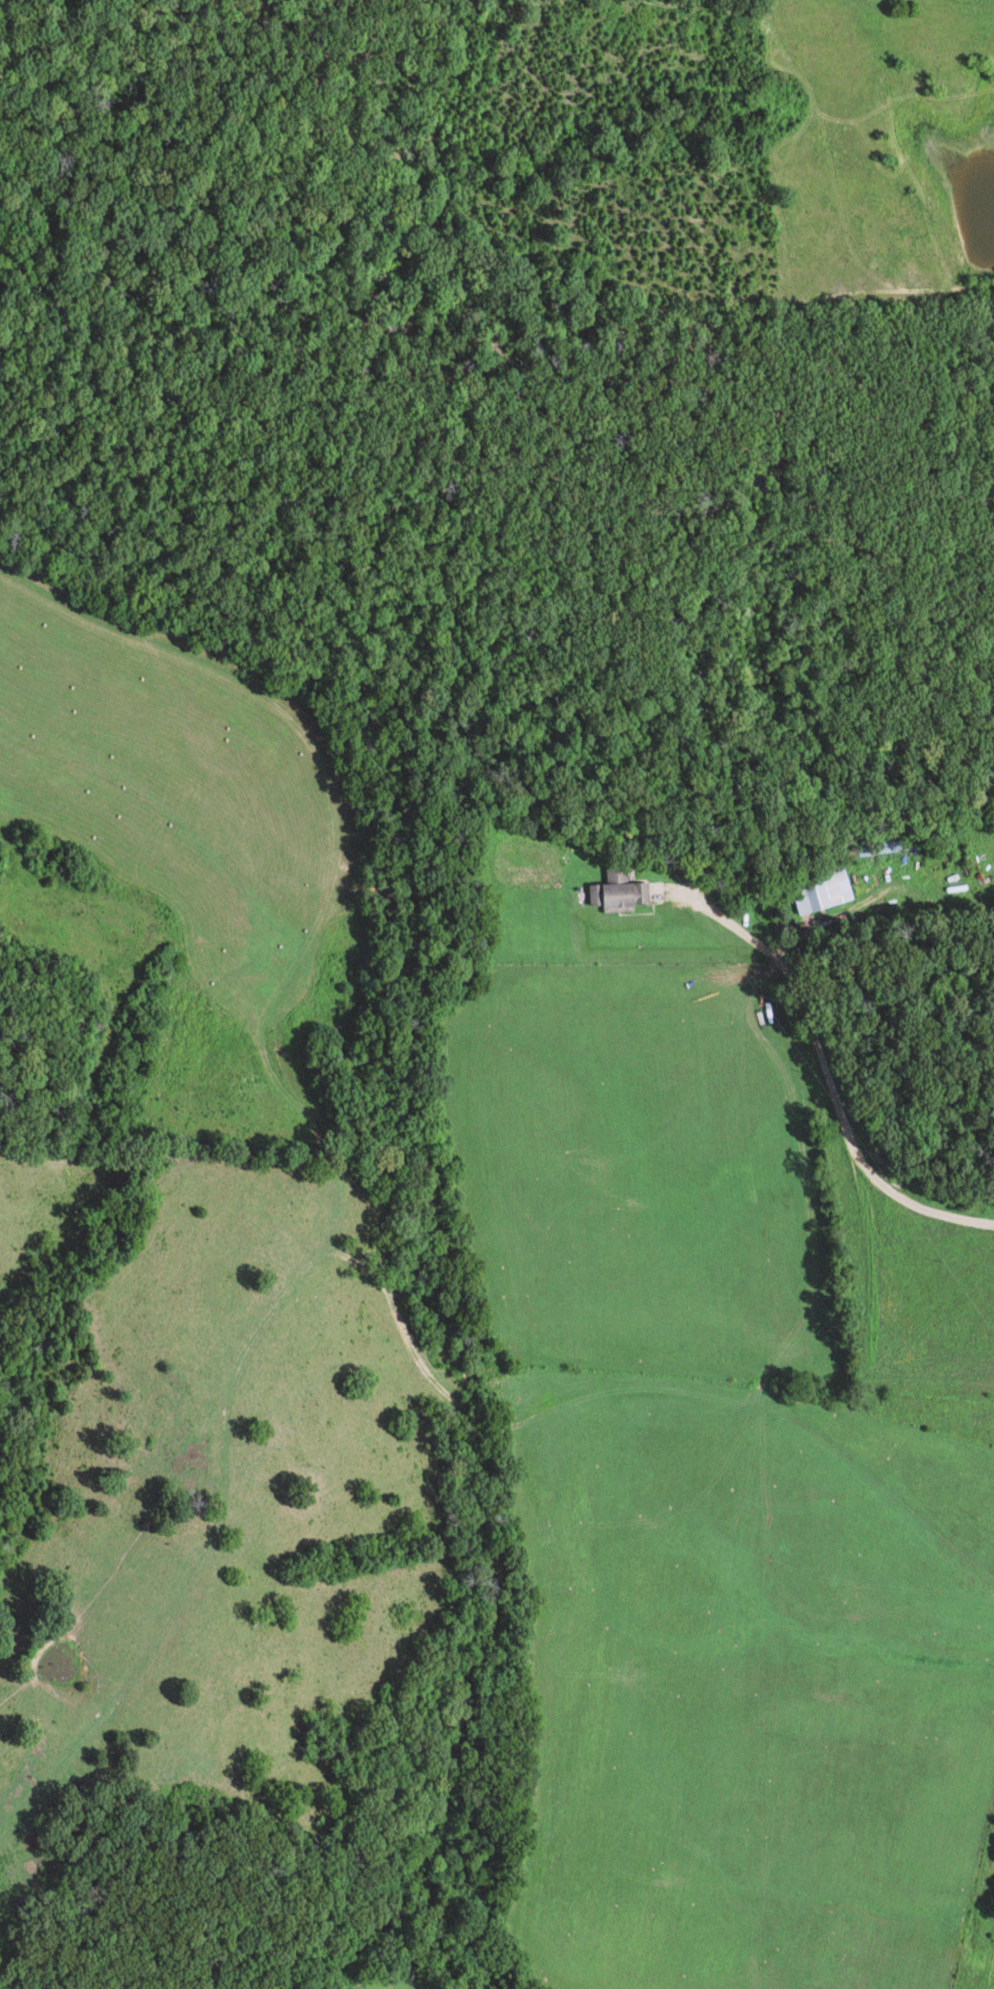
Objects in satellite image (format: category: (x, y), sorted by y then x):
building: (626, 891)

